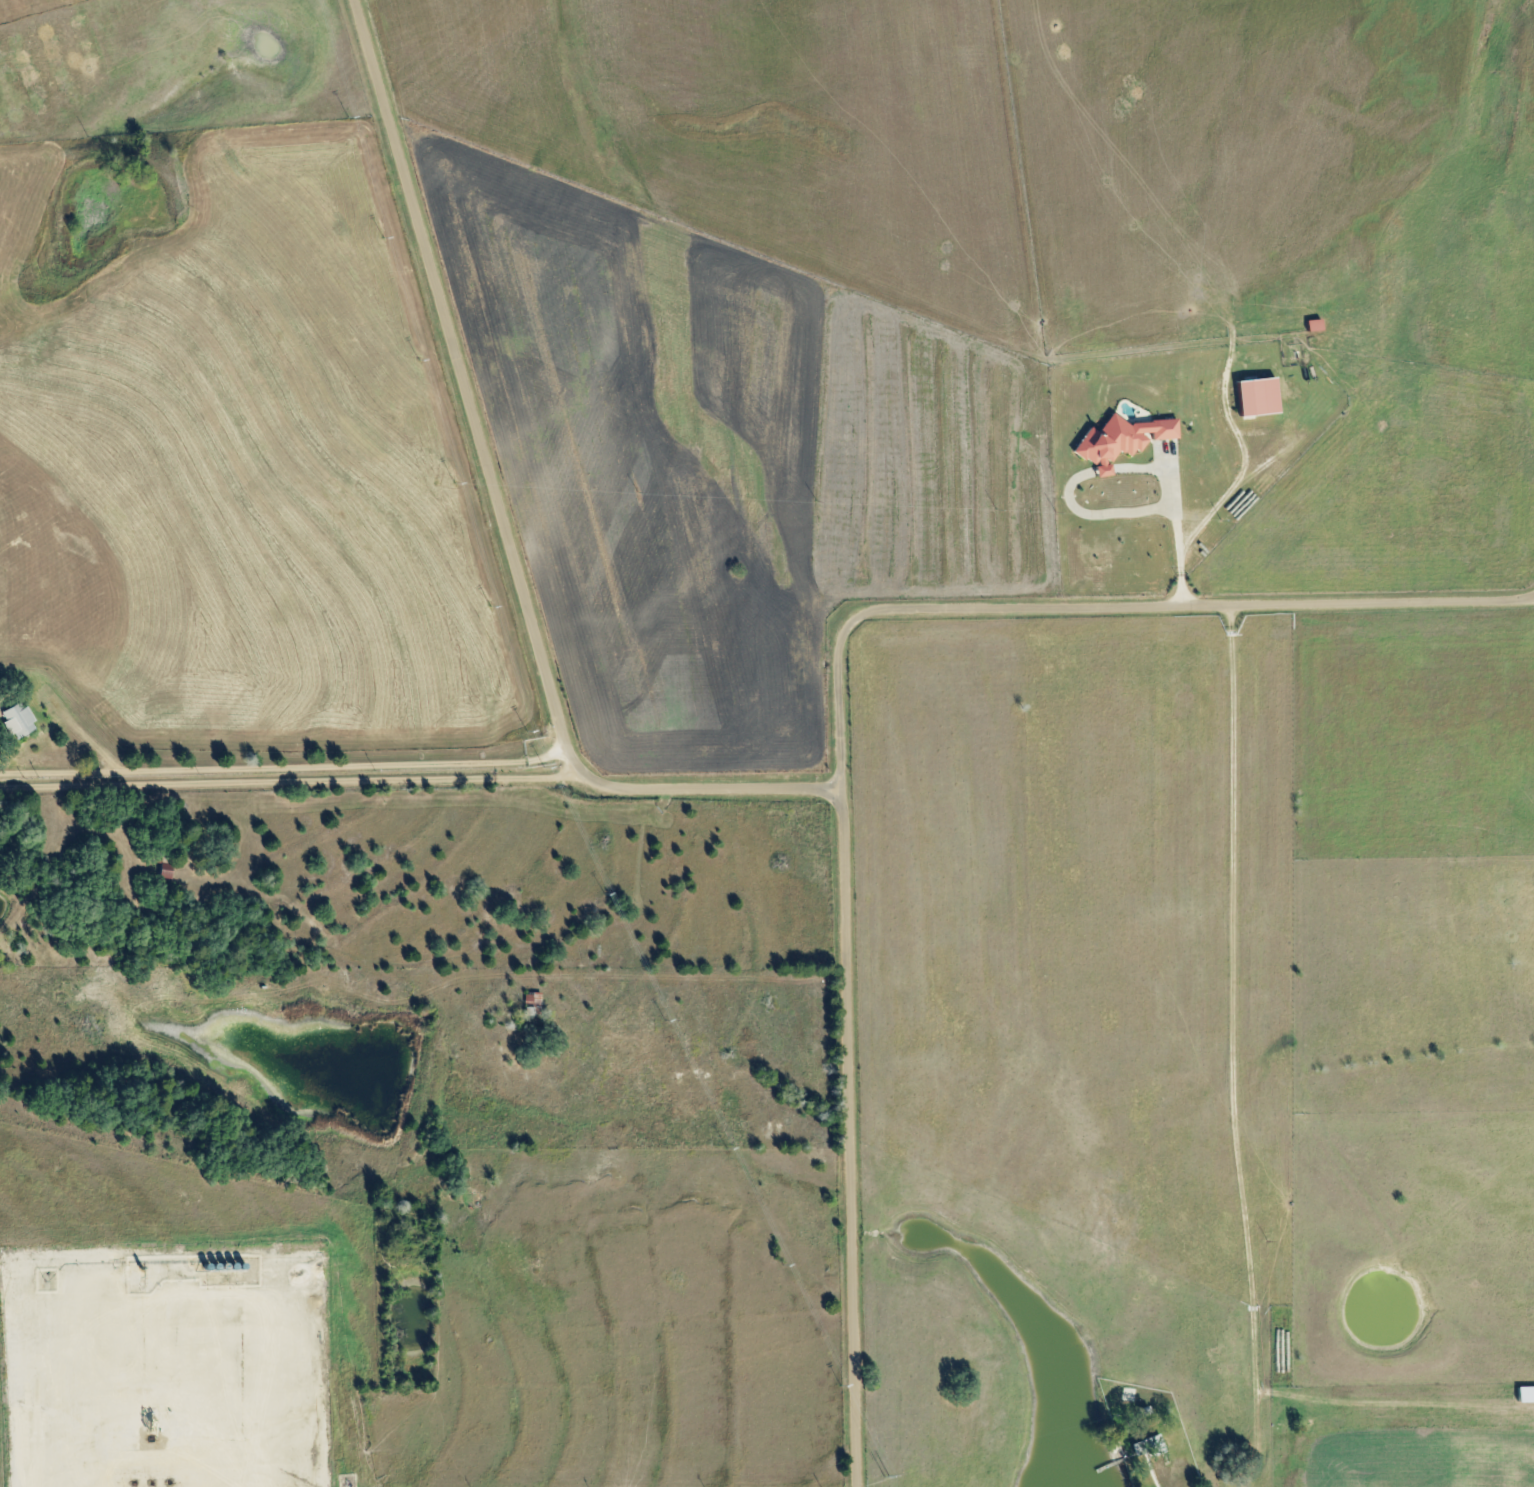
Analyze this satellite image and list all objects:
road: (1415, 363)
building: (1259, 397)
building: (1122, 440)
road: (499, 511)
road: (1103, 600)
road: (1367, 620)
building: (19, 721)
road: (282, 760)
road: (288, 777)
building: (533, 1000)
road: (849, 1136)
building: (1526, 1395)

